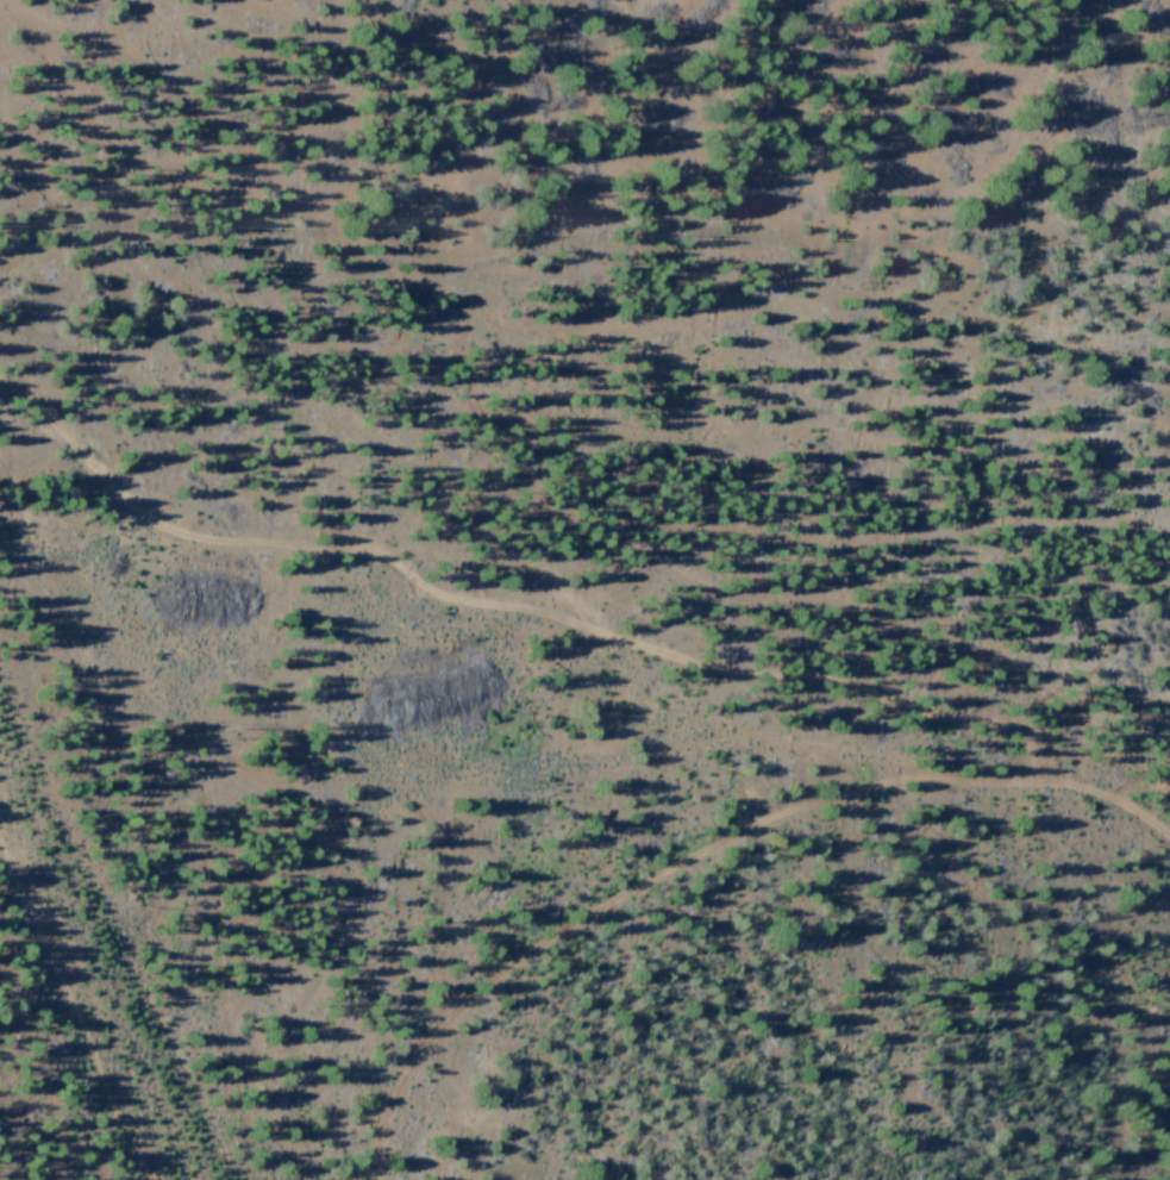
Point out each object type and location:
road: (507, 610)
road: (705, 849)
road: (82, 987)

